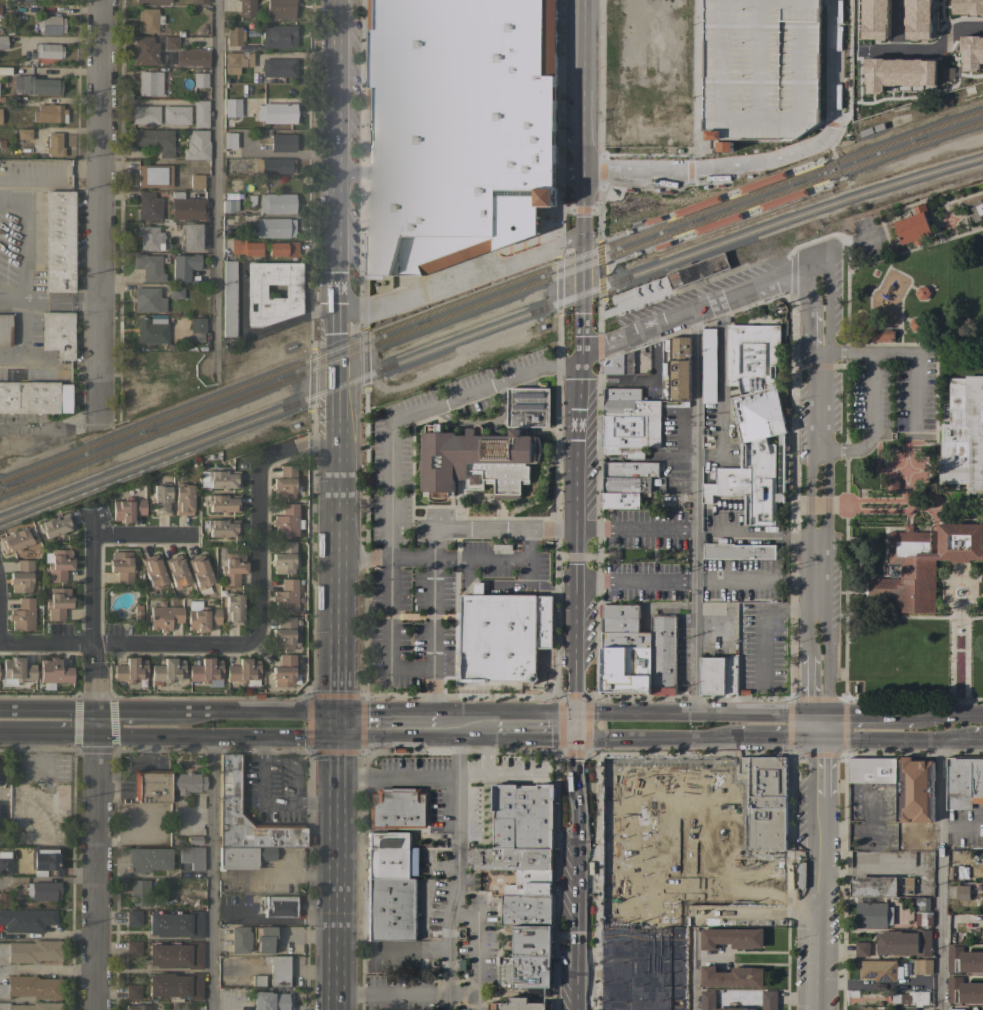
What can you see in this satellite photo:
building: (25, 0)
building: (49, 0)
building: (152, 0)
building: (199, 1)
road: (942, 1)
building: (966, 7)
building: (247, 8)
building: (280, 9)
building: (760, 11)
building: (149, 19)
building: (50, 24)
building: (234, 35)
building: (279, 36)
building: (3, 41)
building: (170, 42)
building: (966, 45)
road: (695, 47)
building: (48, 50)
building: (145, 50)
building: (192, 56)
building: (902, 57)
building: (237, 61)
building: (875, 62)
building: (278, 67)
building: (5, 70)
building: (961, 73)
building: (200, 79)
building: (150, 83)
building: (35, 85)
road: (583, 86)
building: (232, 107)
building: (684, 111)
building: (276, 112)
building: (51, 113)
building: (200, 113)
building: (145, 114)
building: (176, 114)
building: (458, 129)
building: (24, 133)
building: (157, 140)
building: (230, 140)
building: (282, 142)
building: (54, 144)
building: (196, 145)
building: (723, 146)
road: (773, 157)
railway: (819, 162)
building: (274, 165)
road: (353, 171)
road: (569, 172)
road: (48, 175)
building: (155, 175)
building: (196, 181)
railway: (829, 185)
road: (215, 193)
building: (276, 203)
building: (230, 205)
road: (581, 205)
building: (149, 206)
building: (187, 206)
building: (976, 210)
road: (95, 212)
road: (341, 220)
building: (913, 226)
building: (274, 227)
building: (190, 236)
road: (26, 237)
building: (150, 237)
building: (58, 240)
building: (245, 247)
building: (282, 248)
building: (149, 266)
building: (184, 266)
building: (697, 270)
road: (461, 279)
building: (176, 290)
building: (255, 290)
railway: (488, 291)
building: (922, 293)
road: (581, 296)
building: (229, 297)
road: (12, 299)
road: (58, 299)
building: (148, 299)
railway: (488, 302)
park: (925, 302)
road: (701, 310)
building: (197, 324)
building: (915, 324)
building: (4, 329)
building: (151, 331)
railway: (489, 331)
building: (58, 333)
road: (21, 336)
building: (881, 336)
building: (619, 364)
building: (708, 366)
building: (679, 368)
road: (916, 368)
building: (621, 394)
building: (34, 397)
road: (869, 397)
road: (422, 408)
building: (631, 418)
building: (752, 421)
road: (483, 423)
building: (962, 435)
building: (630, 441)
building: (485, 450)
building: (624, 451)
building: (630, 469)
building: (223, 479)
building: (285, 482)
building: (626, 484)
building: (891, 485)
road: (819, 489)
building: (162, 498)
building: (183, 499)
building: (623, 499)
building: (223, 502)
building: (128, 509)
road: (696, 512)
building: (287, 520)
building: (56, 525)
building: (223, 527)
road: (637, 527)
road: (504, 529)
road: (139, 535)
road: (577, 535)
building: (16, 539)
road: (527, 546)
building: (737, 551)
road: (385, 554)
building: (285, 557)
road: (513, 561)
building: (59, 563)
building: (923, 564)
building: (122, 566)
building: (233, 568)
building: (153, 571)
building: (177, 571)
building: (200, 572)
building: (22, 576)
road: (338, 576)
road: (463, 577)
road: (636, 580)
road: (477, 588)
fountain: (957, 592)
building: (286, 596)
building: (58, 602)
building: (234, 608)
building: (619, 611)
building: (23, 614)
building: (164, 615)
building: (202, 616)
road: (432, 621)
building: (620, 624)
flagpole: (957, 627)
road: (253, 632)
building: (284, 632)
road: (389, 634)
building: (503, 637)
building: (626, 640)
parking lot: (761, 646)
building: (663, 655)
building: (130, 669)
building: (17, 670)
building: (168, 670)
building: (205, 670)
building: (284, 670)
building: (55, 671)
building: (244, 671)
building: (626, 671)
building: (712, 676)
building: (730, 676)
road: (1, 710)
road: (47, 710)
road: (203, 710)
road: (137, 711)
road: (281, 711)
traffic signals: (338, 712)
road: (384, 713)
road: (694, 714)
road: (463, 715)
road: (534, 715)
traffic signals: (817, 715)
road: (864, 715)
traffic signals: (573, 716)
road: (947, 716)
road: (338, 723)
road: (573, 727)
road: (46, 732)
road: (288, 734)
traffic signals: (338, 734)
road: (529, 738)
traffic signals: (573, 739)
road: (651, 739)
road: (733, 740)
road: (777, 740)
traffic signals: (818, 740)
road: (894, 740)
road: (976, 740)
road: (485, 754)
road: (91, 761)
building: (872, 770)
road: (501, 771)
road: (398, 778)
building: (187, 782)
building: (963, 782)
building: (230, 784)
building: (151, 785)
road: (1, 793)
building: (62, 798)
building: (765, 801)
building: (397, 811)
building: (522, 816)
building: (194, 839)
building: (192, 856)
building: (243, 856)
building: (148, 859)
building: (512, 859)
building: (45, 860)
building: (5, 862)
road: (818, 862)
road: (209, 872)
road: (284, 872)
road: (337, 872)
road: (457, 874)
road: (575, 874)
road: (942, 875)
building: (530, 883)
building: (908, 885)
building: (389, 887)
building: (873, 887)
building: (976, 887)
building: (42, 890)
building: (962, 892)
building: (141, 893)
building: (4, 899)
building: (922, 903)
building: (280, 905)
building: (527, 909)
road: (753, 910)
building: (872, 915)
building: (133, 917)
building: (923, 918)
building: (26, 919)
building: (175, 923)
building: (252, 938)
building: (732, 938)
building: (531, 940)
building: (904, 943)
building: (133, 948)
road: (476, 948)
building: (861, 948)
road: (406, 949)
building: (32, 951)
building: (176, 954)
building: (963, 960)
road: (690, 961)
building: (922, 966)
road: (45, 969)
building: (879, 970)
building: (272, 972)
building: (525, 972)
building: (732, 977)
building: (175, 985)
building: (30, 986)
road: (391, 990)
building: (133, 991)
building: (963, 991)
road: (461, 992)
building: (227, 993)
building: (914, 998)
building: (769, 999)
building: (274, 1001)
building: (518, 1005)
building: (30, 1006)
building: (136, 1007)
building: (956, 1009)

